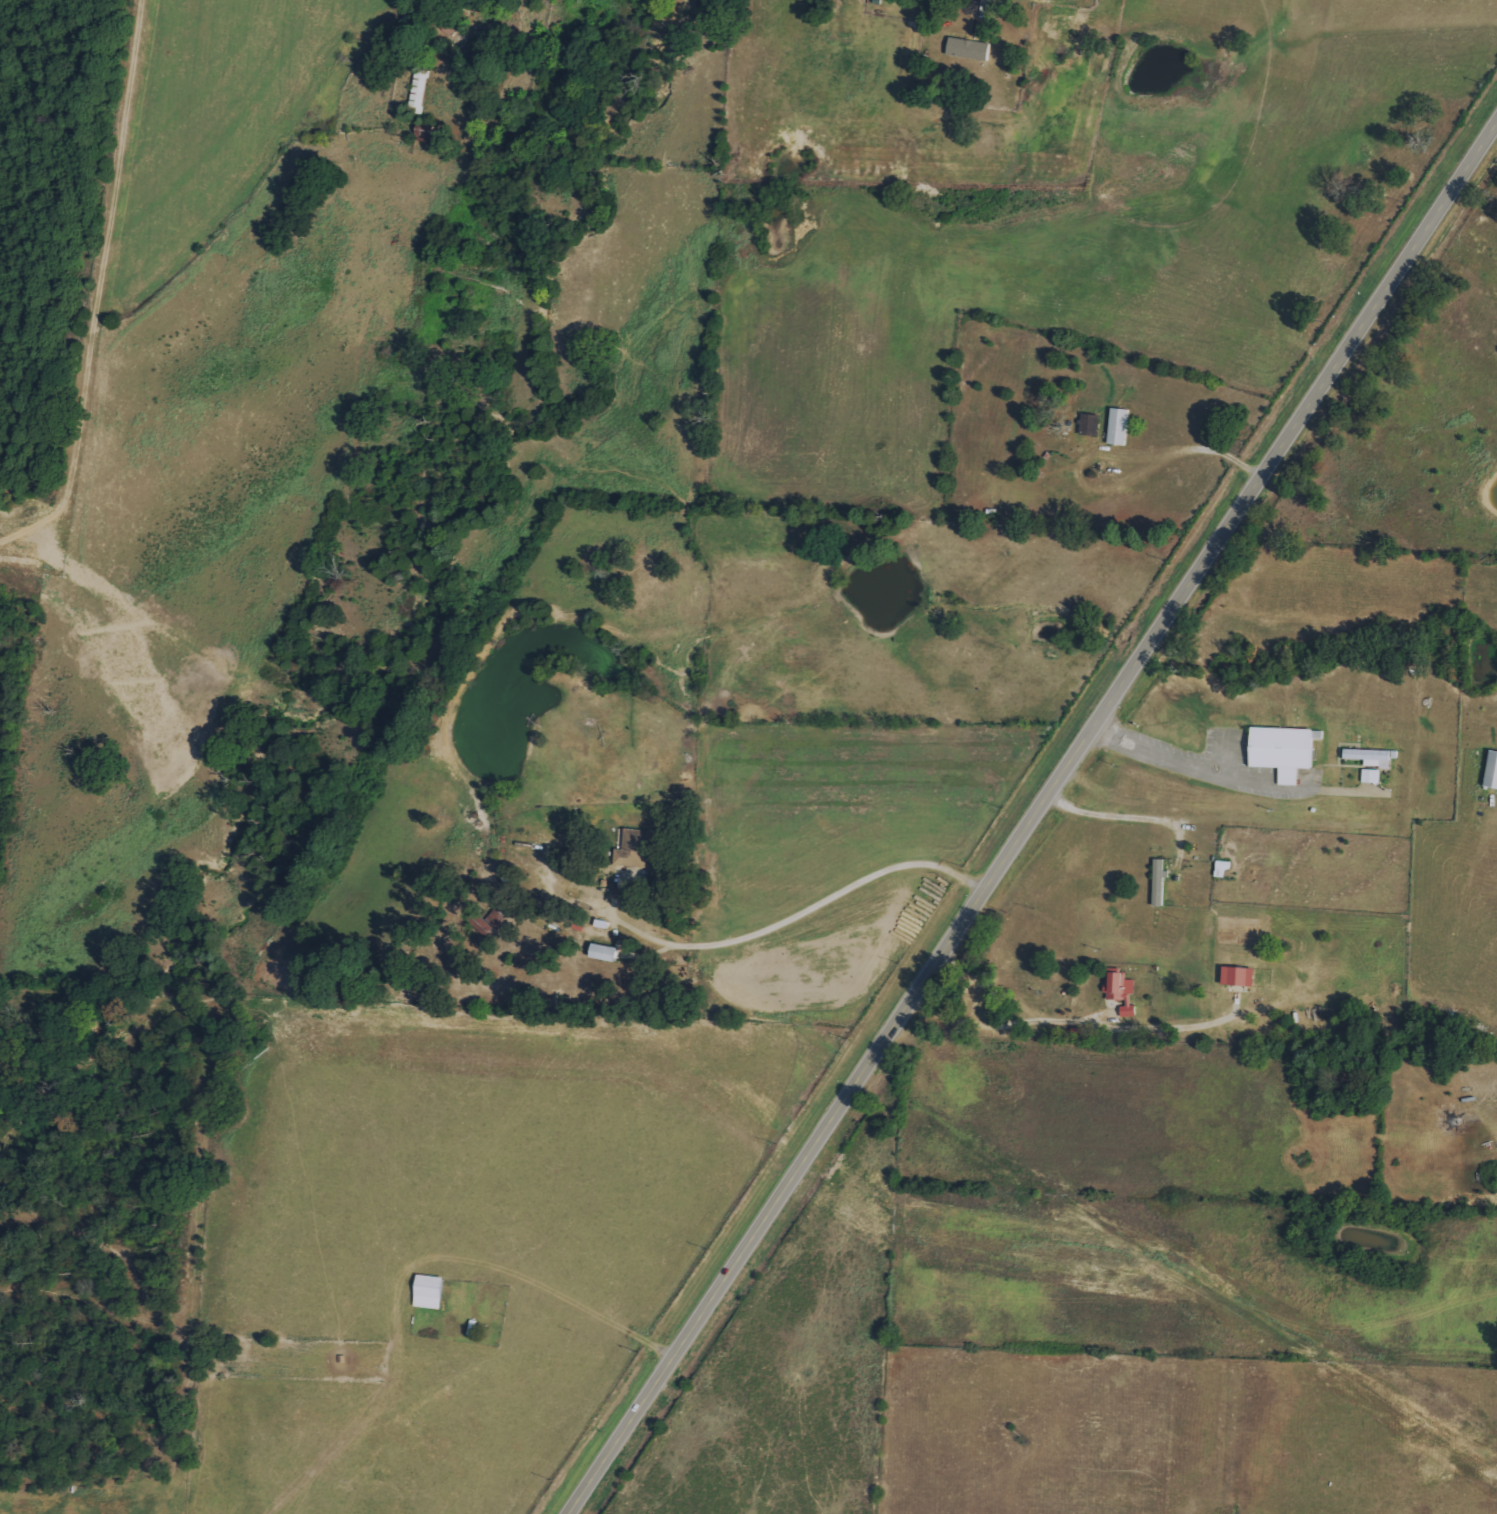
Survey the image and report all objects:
road: (980, 6)
building: (967, 49)
building: (1088, 424)
building: (1117, 426)
road: (1161, 472)
building: (1282, 750)
building: (1369, 756)
building: (1491, 770)
building: (1369, 775)
road: (1235, 780)
road: (1113, 819)
road: (1041, 825)
building: (632, 847)
building: (1220, 869)
building: (1157, 881)
road: (801, 921)
building: (602, 952)
building: (1237, 976)
building: (1118, 988)
road: (1014, 1020)
building: (427, 1292)

